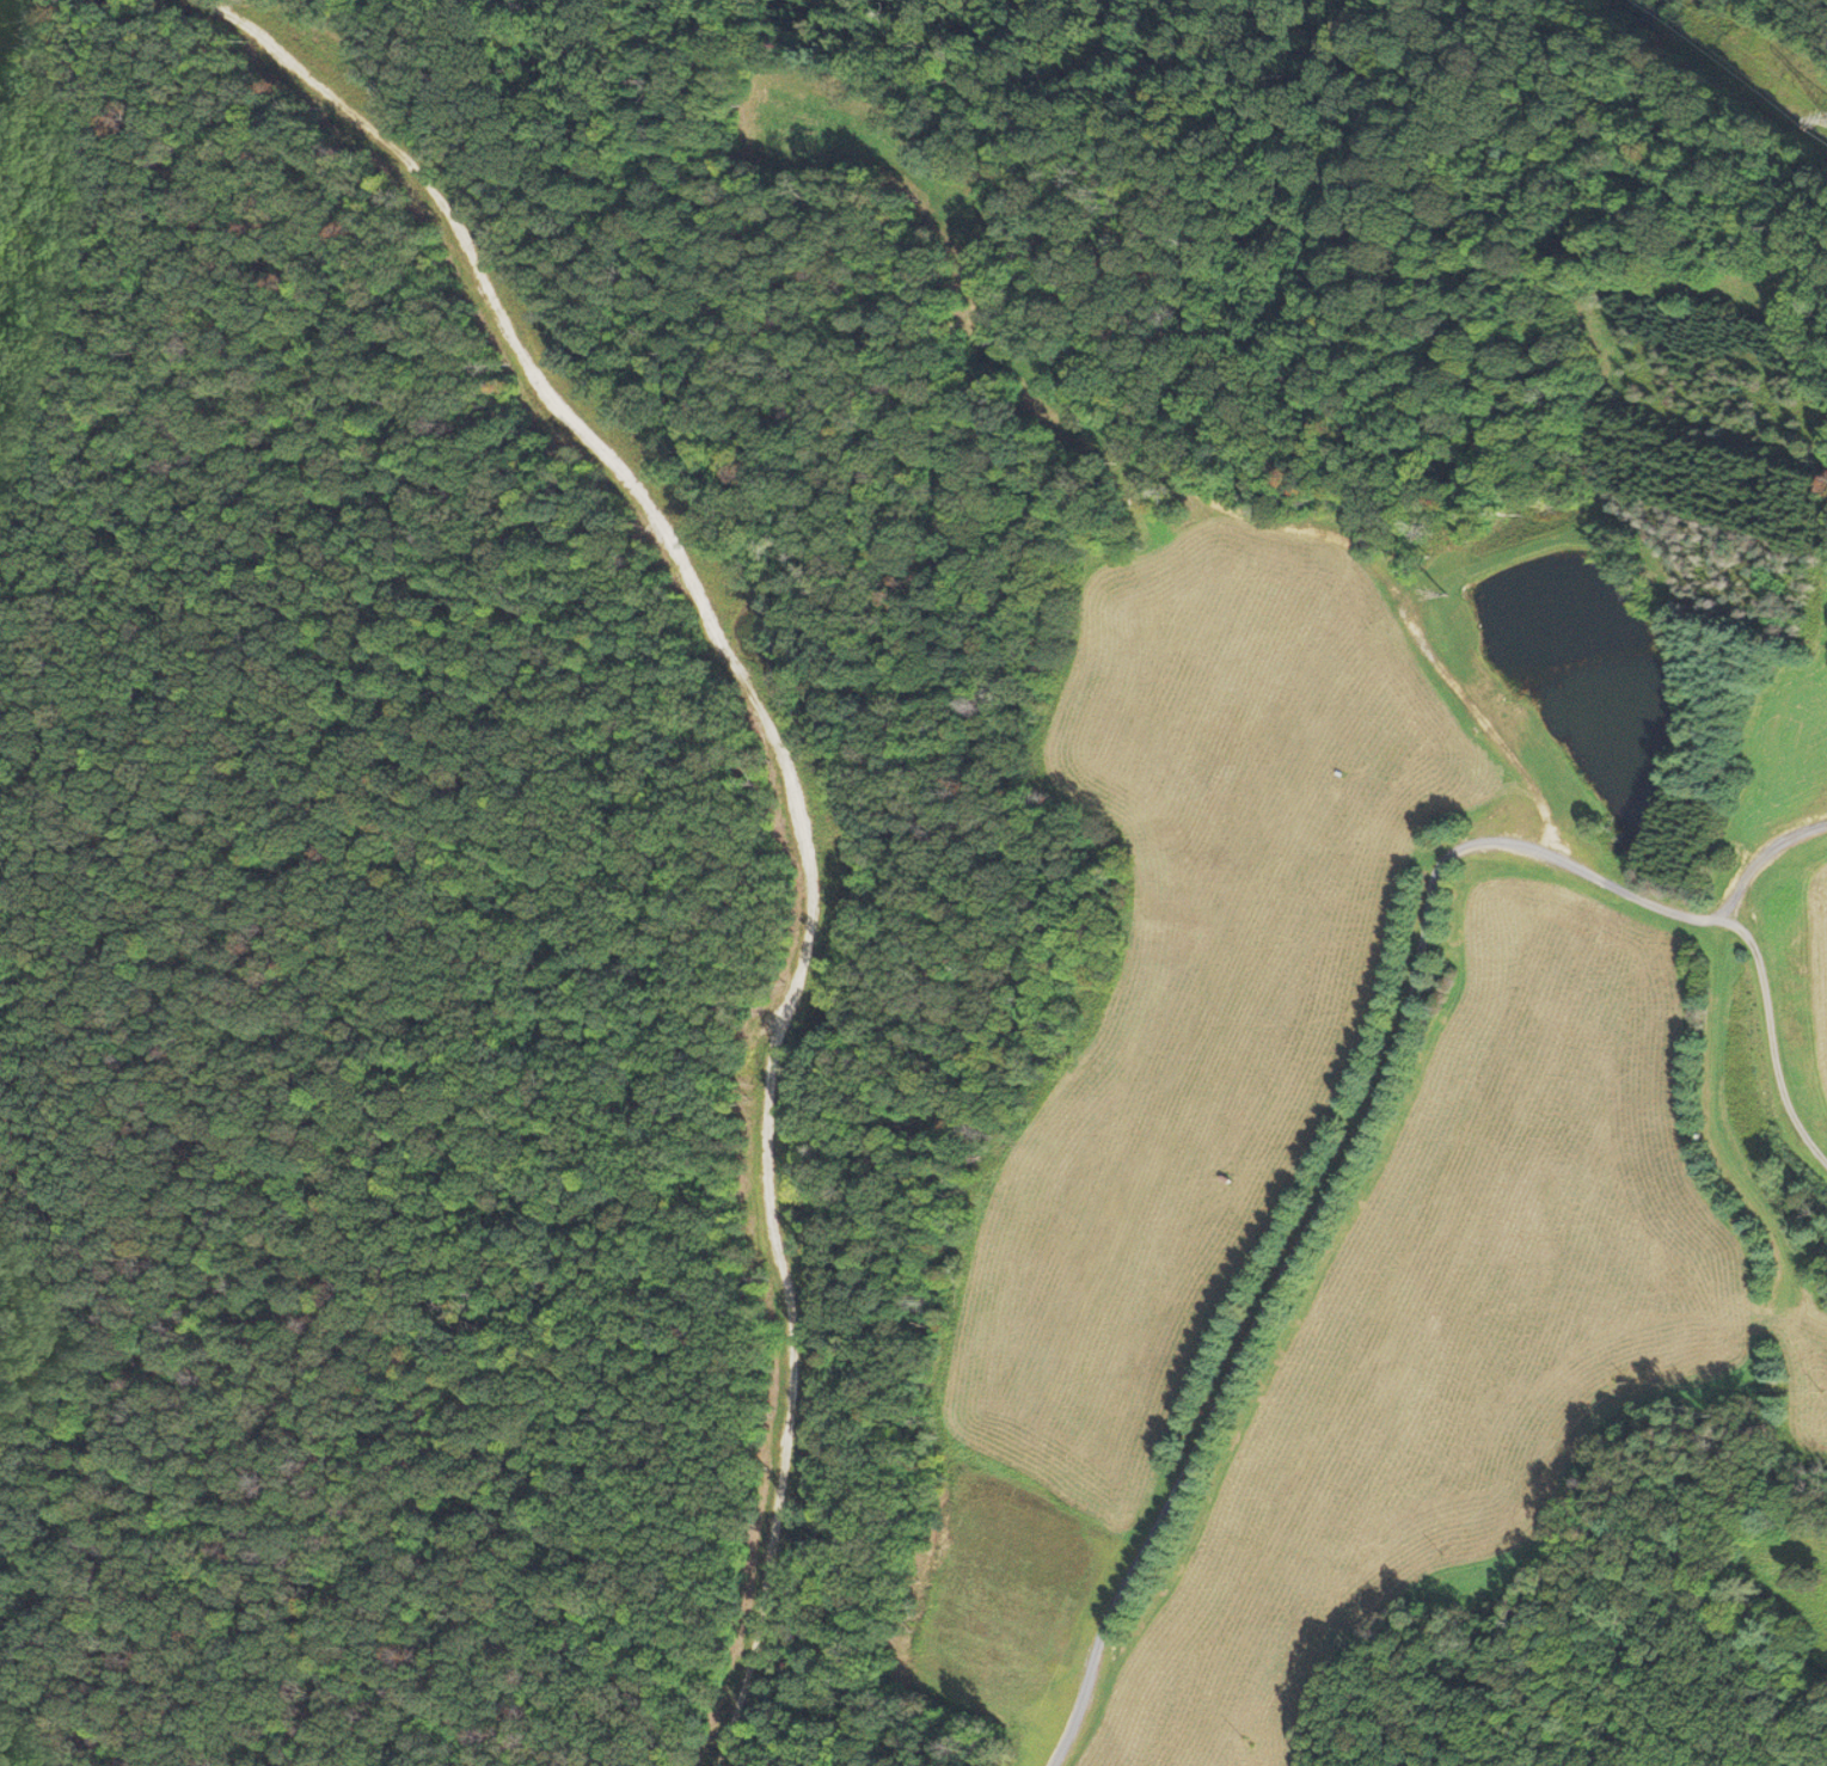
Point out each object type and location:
building: (1449, 250)
road: (783, 783)
road: (1760, 856)
road: (1387, 1057)

